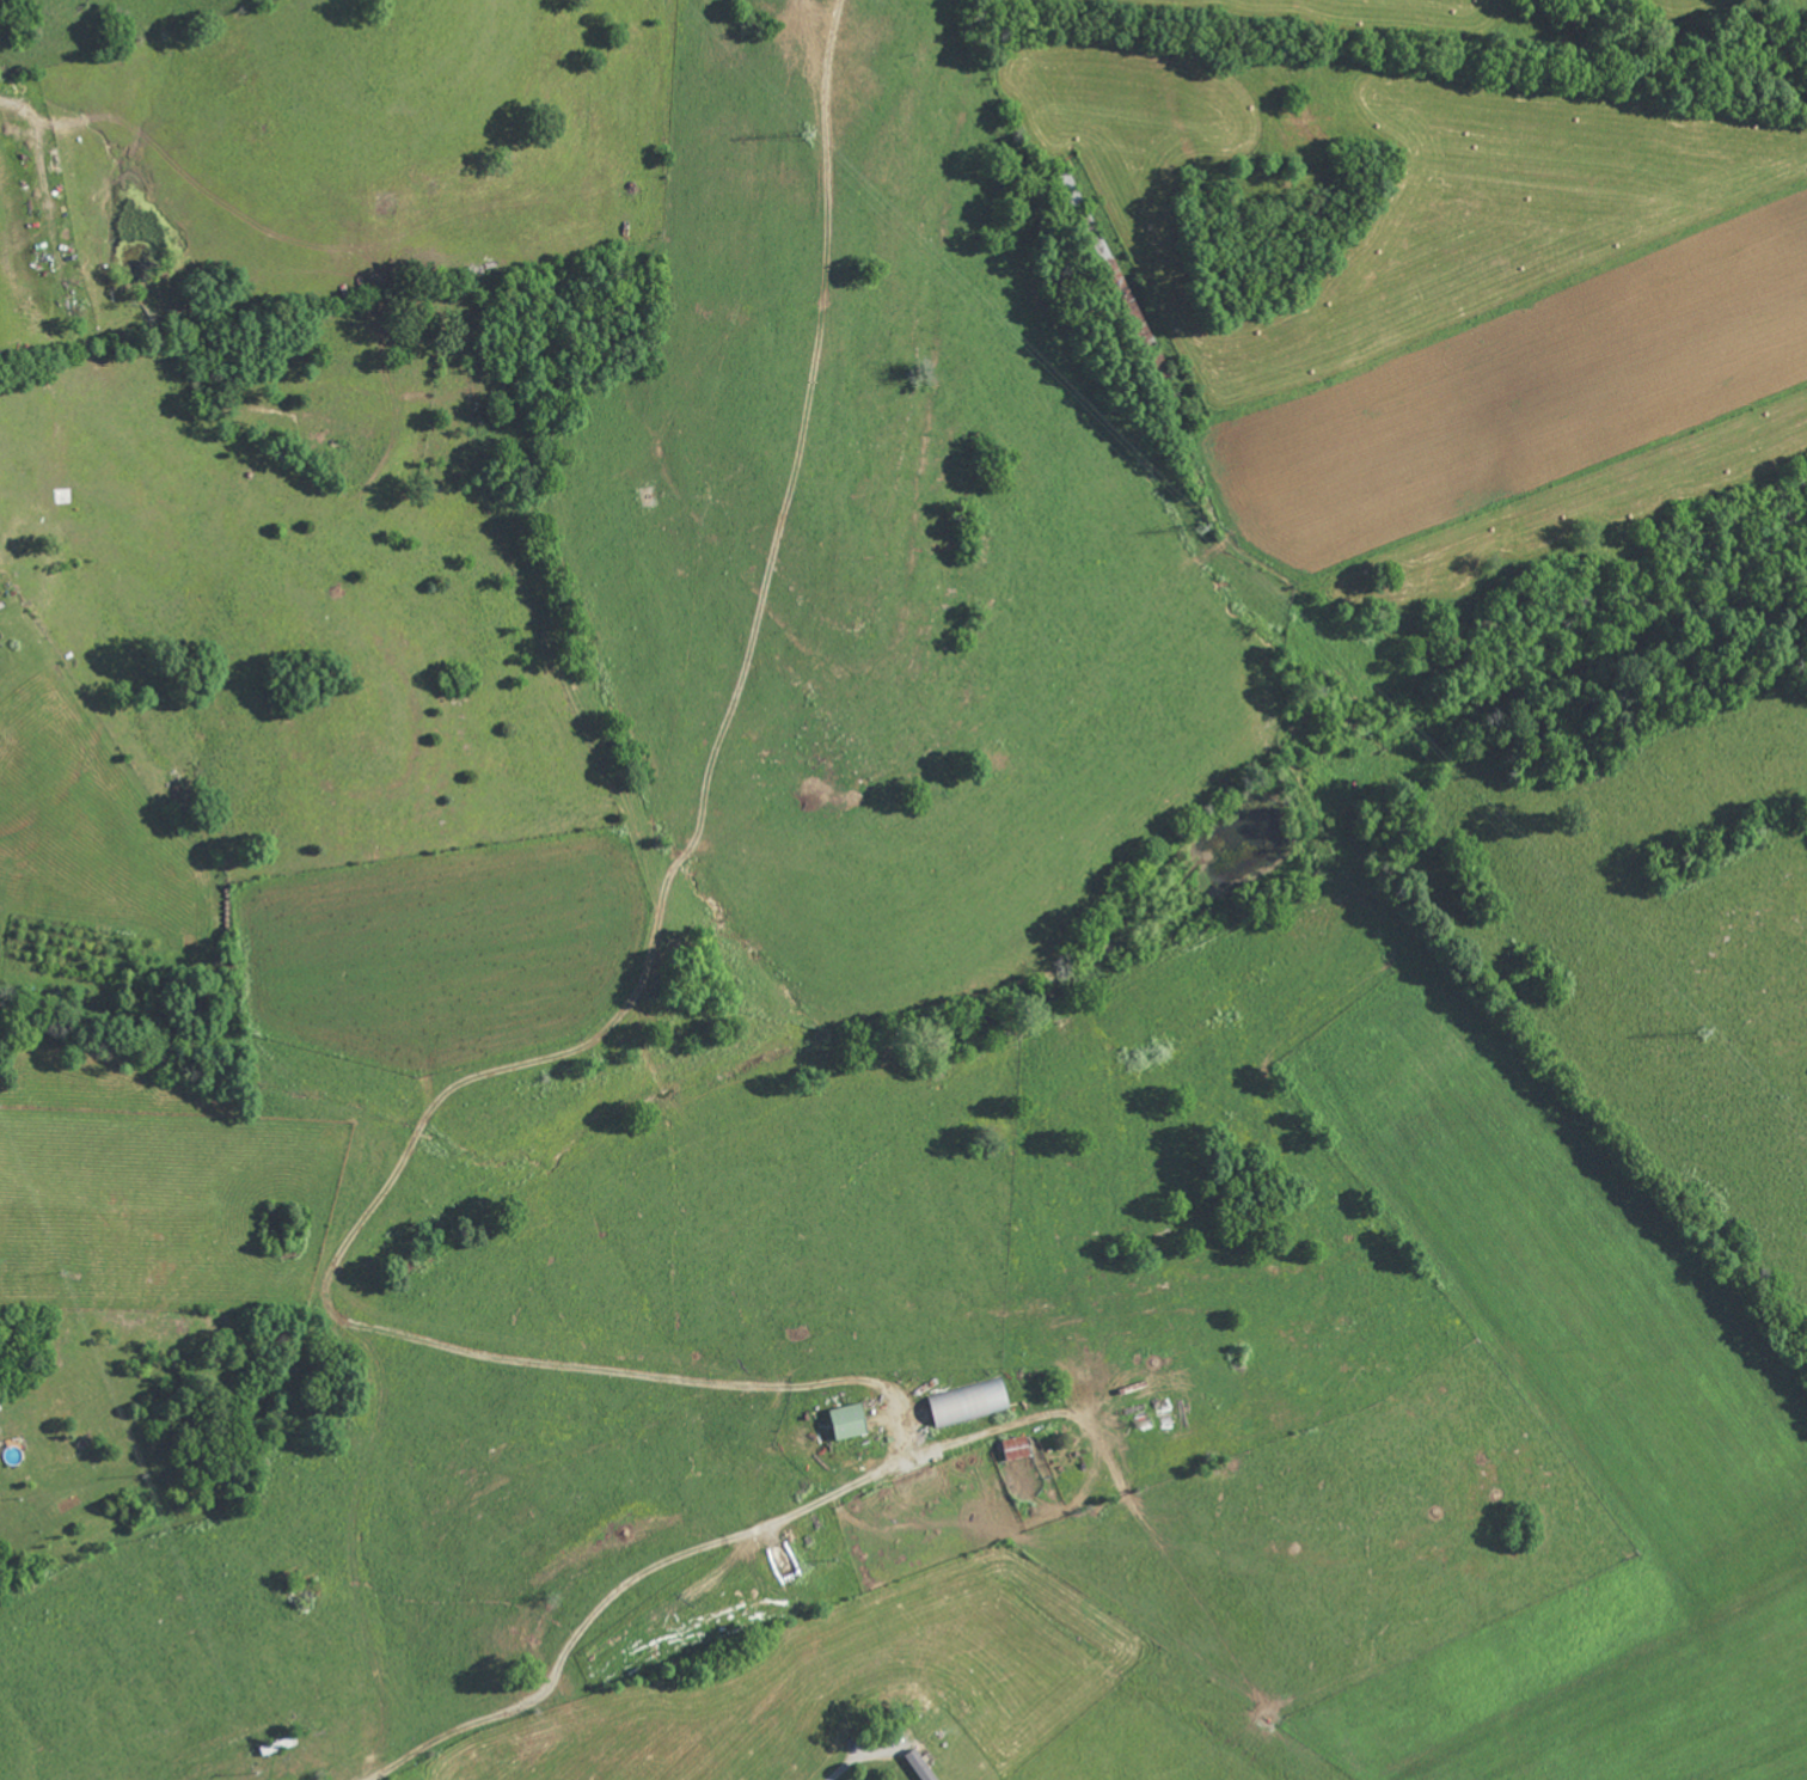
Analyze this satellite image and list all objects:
road: (12, 104)
power tower: (807, 135)
road: (786, 506)
power tower: (1203, 528)
power tower: (1705, 1033)
road: (410, 1336)
building: (970, 1402)
building: (851, 1421)
building: (1018, 1449)
road: (649, 1573)
road: (860, 1753)

